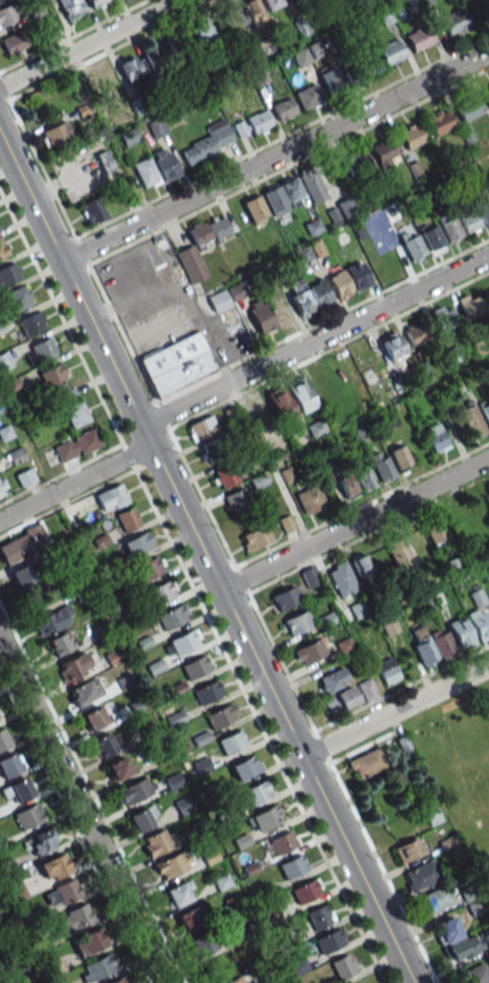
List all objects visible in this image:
building: (124, 0)
building: (96, 2)
building: (270, 4)
building: (71, 8)
building: (254, 12)
building: (6, 15)
building: (455, 21)
building: (300, 28)
building: (202, 33)
building: (419, 38)
building: (12, 42)
road: (88, 43)
building: (177, 46)
building: (391, 52)
building: (300, 57)
building: (153, 58)
building: (129, 68)
building: (352, 74)
building: (105, 79)
building: (330, 79)
building: (487, 95)
building: (308, 97)
building: (284, 109)
building: (468, 110)
building: (258, 122)
building: (440, 122)
building: (156, 128)
building: (54, 134)
building: (412, 135)
building: (209, 142)
building: (384, 153)
road: (273, 158)
building: (105, 160)
building: (165, 164)
building: (355, 166)
building: (145, 172)
building: (311, 184)
building: (283, 196)
building: (346, 207)
building: (93, 210)
building: (255, 210)
building: (484, 211)
building: (469, 222)
building: (218, 227)
building: (450, 229)
building: (431, 238)
building: (412, 247)
building: (2, 248)
building: (194, 252)
building: (7, 273)
building: (357, 276)
building: (338, 285)
building: (236, 293)
building: (487, 293)
building: (319, 294)
building: (18, 298)
building: (300, 298)
building: (218, 301)
building: (283, 313)
building: (261, 317)
building: (444, 319)
building: (30, 324)
building: (416, 333)
building: (393, 345)
building: (42, 349)
building: (4, 360)
building: (177, 363)
building: (50, 376)
road: (236, 378)
building: (317, 387)
building: (300, 395)
building: (281, 404)
building: (72, 407)
building: (485, 411)
building: (388, 421)
building: (471, 421)
building: (201, 428)
building: (316, 428)
building: (436, 437)
building: (76, 445)
building: (213, 449)
building: (401, 458)
building: (225, 475)
building: (24, 477)
building: (365, 478)
building: (2, 486)
building: (347, 486)
building: (113, 497)
building: (310, 499)
building: (236, 501)
building: (127, 520)
road: (355, 525)
building: (435, 531)
building: (256, 537)
building: (22, 544)
building: (136, 545)
building: (397, 549)
road: (205, 559)
building: (361, 564)
building: (147, 568)
building: (24, 575)
building: (310, 576)
building: (342, 578)
road: (192, 587)
building: (159, 592)
building: (285, 598)
building: (358, 609)
building: (479, 616)
building: (171, 617)
building: (325, 620)
building: (53, 621)
building: (297, 623)
building: (390, 627)
building: (461, 633)
building: (183, 642)
building: (60, 643)
building: (432, 645)
building: (309, 651)
building: (76, 665)
building: (195, 667)
building: (386, 671)
building: (334, 680)
building: (367, 690)
building: (84, 691)
building: (207, 692)
building: (340, 700)
road: (396, 712)
building: (219, 717)
building: (94, 718)
building: (3, 739)
building: (232, 742)
building: (107, 743)
building: (403, 744)
building: (366, 763)
building: (10, 764)
building: (202, 766)
building: (119, 767)
building: (245, 767)
park: (461, 777)
building: (18, 790)
building: (135, 790)
building: (256, 792)
road: (82, 813)
building: (431, 814)
building: (28, 816)
building: (144, 818)
building: (265, 818)
building: (41, 842)
building: (159, 842)
building: (281, 842)
building: (446, 842)
building: (408, 850)
building: (172, 864)
building: (54, 866)
building: (293, 866)
building: (420, 876)
building: (15, 888)
building: (305, 891)
building: (62, 893)
building: (178, 893)
building: (434, 900)
building: (474, 907)
building: (319, 916)
building: (75, 918)
building: (189, 919)
building: (446, 929)
building: (486, 937)
building: (88, 941)
building: (329, 941)
building: (201, 944)
building: (343, 967)
building: (97, 968)
building: (475, 975)
building: (119, 980)
building: (235, 981)

